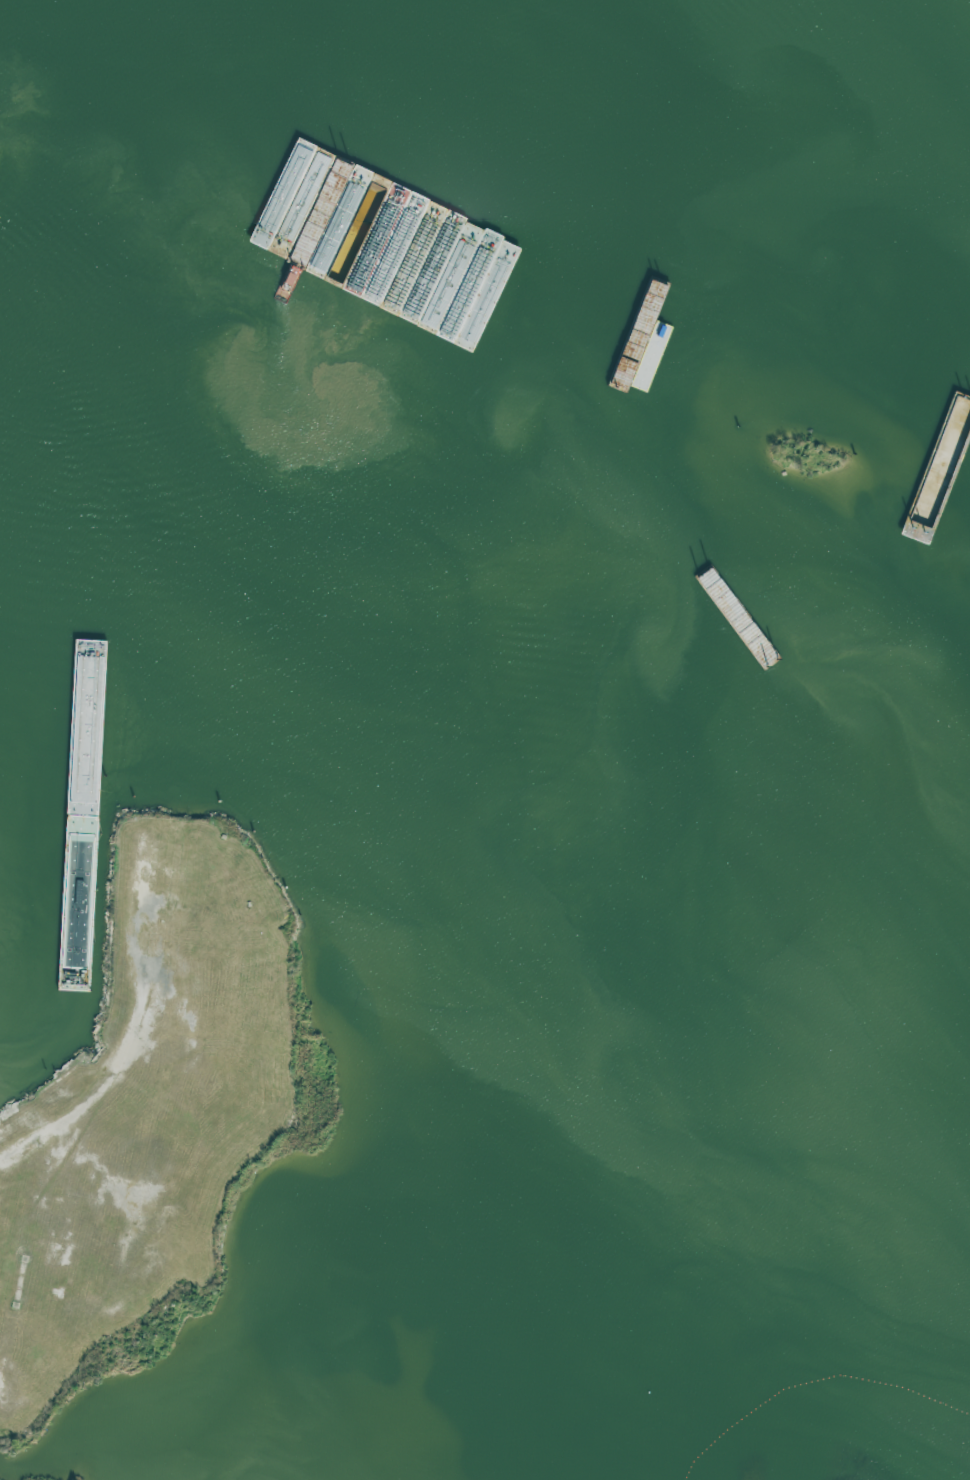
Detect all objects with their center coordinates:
river: (538, 568)
building: (167, 933)
road: (115, 1064)
landfill: (868, 1451)

